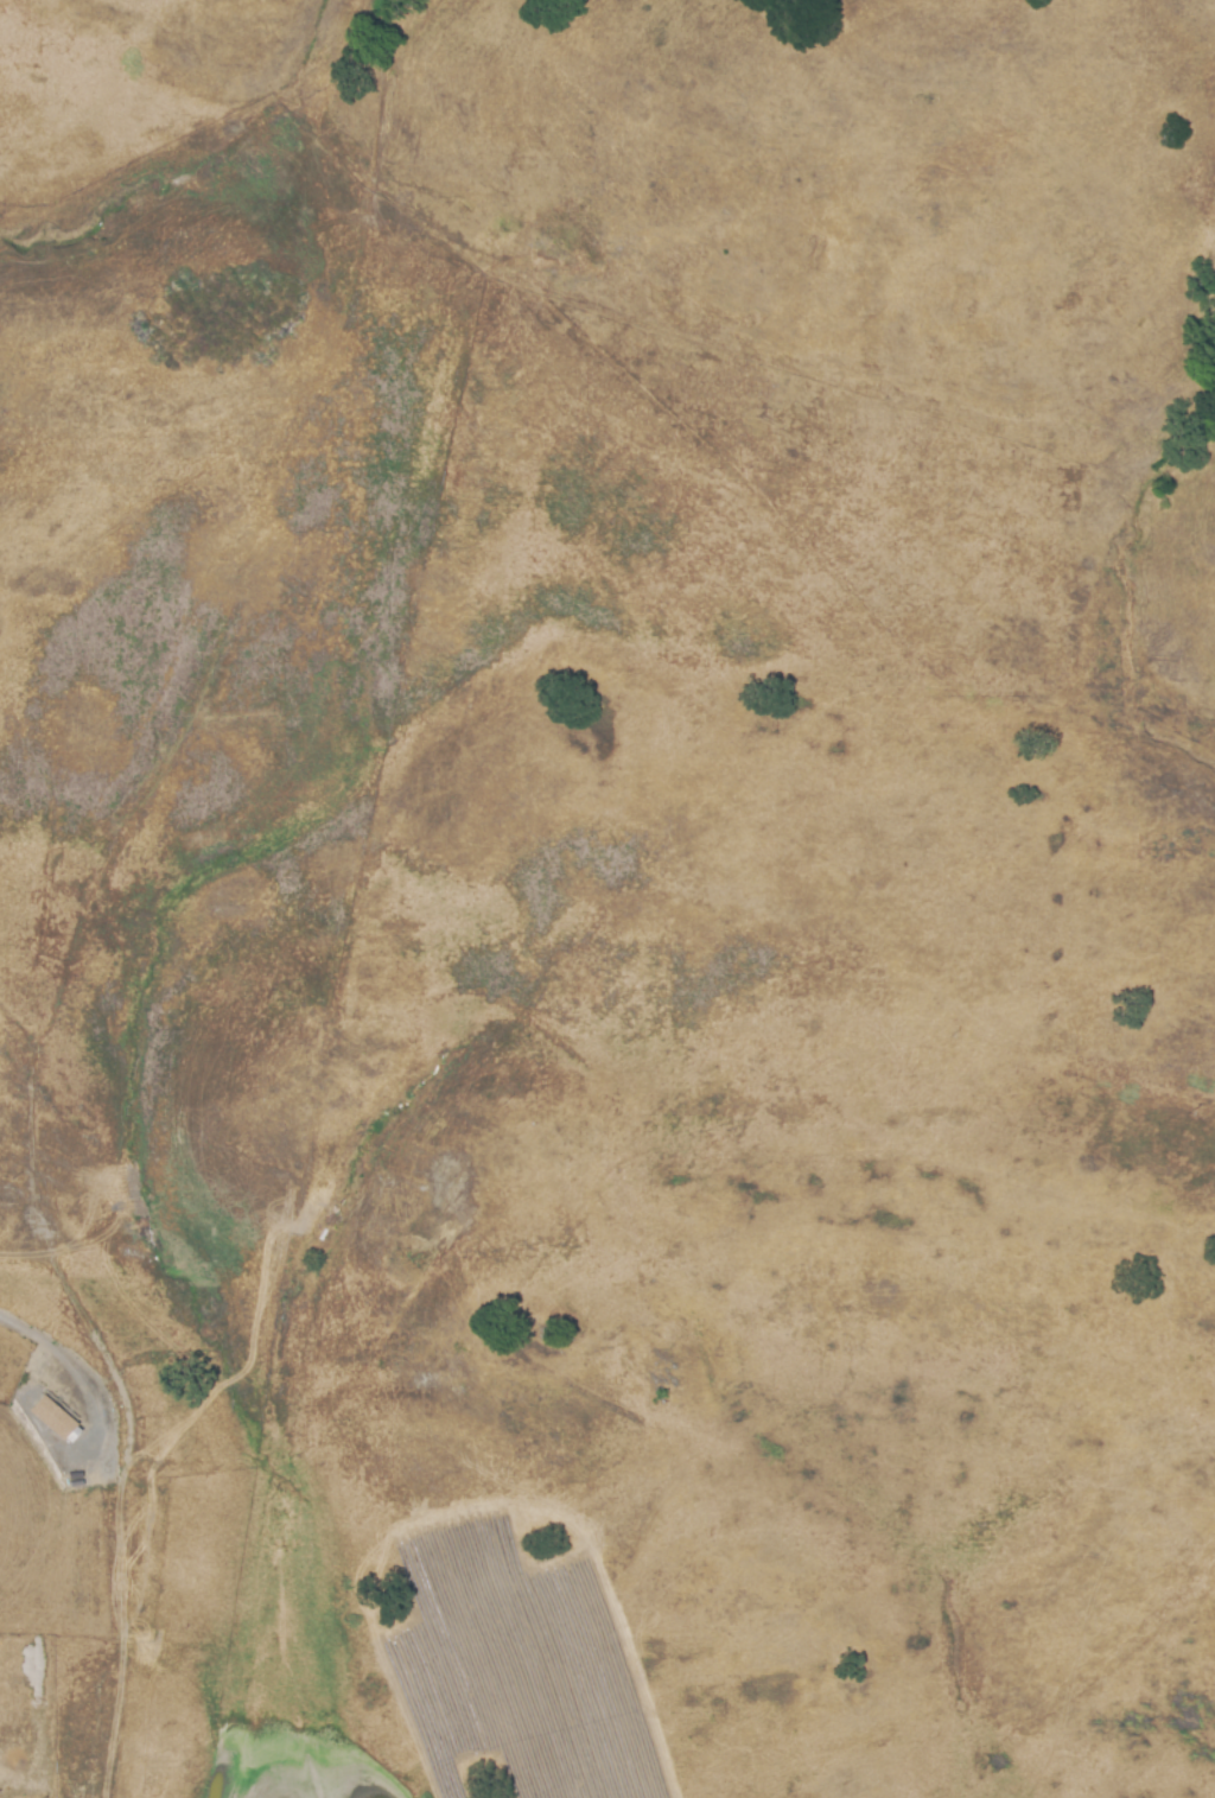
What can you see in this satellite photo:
road: (75, 1367)
building: (55, 1421)
building: (77, 1480)

